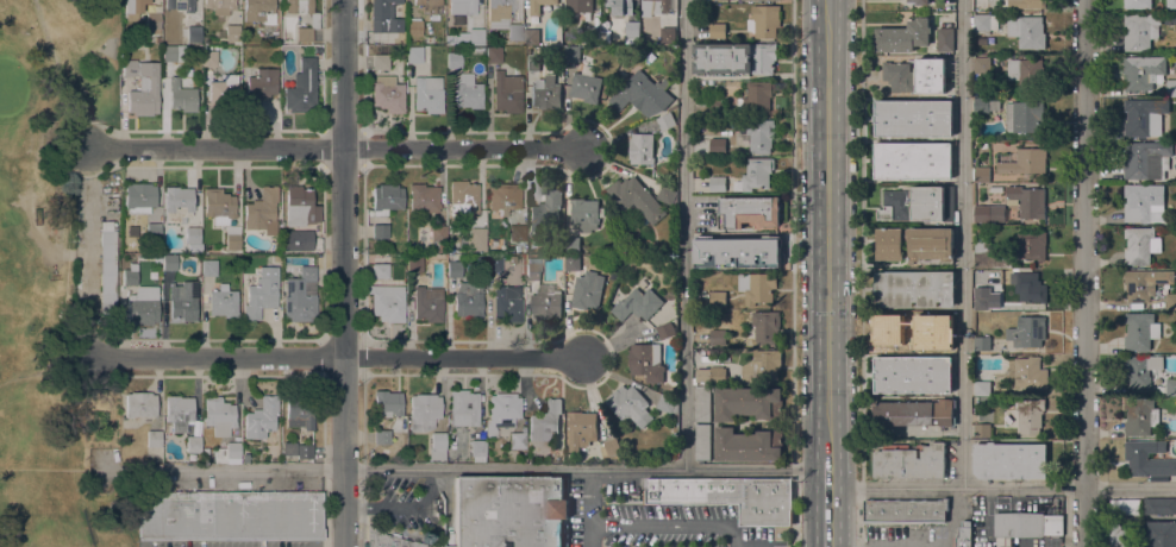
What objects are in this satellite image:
building: (920, 1)
building: (1025, 2)
building: (1137, 4)
building: (1171, 4)
building: (179, 5)
building: (429, 5)
building: (578, 5)
building: (219, 6)
building: (538, 6)
building: (619, 6)
building: (661, 6)
building: (461, 7)
building: (132, 8)
building: (499, 12)
building: (262, 17)
building: (383, 17)
building: (151, 20)
building: (314, 20)
building: (764, 20)
building: (984, 21)
building: (413, 27)
building: (632, 29)
building: (192, 30)
building: (717, 30)
building: (1027, 30)
building: (1140, 30)
building: (514, 32)
building: (229, 33)
building: (531, 33)
building: (593, 33)
building: (154, 34)
building: (668, 34)
building: (903, 36)
building: (470, 37)
building: (400, 38)
building: (945, 38)
building: (246, 39)
building: (429, 39)
building: (149, 49)
building: (306, 50)
building: (173, 54)
building: (413, 54)
building: (571, 54)
building: (493, 55)
building: (764, 57)
building: (208, 58)
building: (723, 58)
building: (453, 59)
building: (532, 61)
building: (380, 62)
building: (982, 67)
building: (1143, 70)
building: (1025, 71)
building: (897, 76)
building: (931, 76)
building: (256, 86)
building: (142, 87)
building: (301, 87)
building: (586, 87)
building: (1170, 87)
park: (10, 90)
building: (467, 92)
building: (223, 93)
building: (506, 93)
building: (546, 93)
building: (387, 94)
building: (427, 94)
building: (643, 94)
building: (181, 96)
building: (757, 96)
building: (981, 105)
building: (673, 106)
building: (717, 107)
building: (1027, 115)
building: (1144, 115)
building: (913, 117)
building: (665, 120)
building: (700, 126)
building: (761, 134)
road: (39, 143)
building: (718, 145)
building: (642, 147)
road: (465, 149)
road: (218, 150)
building: (1146, 159)
building: (913, 161)
building: (1022, 161)
building: (756, 174)
building: (982, 174)
building: (718, 183)
building: (999, 190)
building: (667, 195)
building: (139, 197)
building: (423, 197)
building: (503, 197)
building: (636, 197)
building: (386, 199)
building: (463, 199)
building: (1026, 200)
building: (1141, 200)
building: (177, 203)
building: (919, 203)
building: (218, 206)
building: (300, 207)
building: (262, 210)
building: (749, 210)
building: (989, 212)
building: (544, 213)
building: (586, 213)
road: (88, 218)
road: (830, 230)
building: (152, 231)
building: (379, 231)
building: (437, 233)
building: (517, 233)
road: (684, 234)
building: (232, 237)
building: (193, 239)
building: (476, 239)
building: (304, 241)
building: (889, 243)
road: (962, 243)
building: (573, 244)
building: (931, 244)
building: (1138, 244)
building: (1031, 245)
building: (450, 249)
building: (758, 249)
building: (989, 256)
building: (156, 259)
building: (511, 259)
building: (718, 259)
building: (575, 262)
building: (169, 263)
building: (493, 263)
building: (413, 264)
building: (208, 266)
building: (107, 268)
building: (532, 268)
building: (453, 269)
building: (715, 270)
building: (380, 271)
road: (346, 273)
building: (715, 273)
road: (792, 273)
road: (862, 273)
road: (1084, 273)
park: (61, 276)
building: (129, 277)
building: (1145, 282)
building: (757, 287)
building: (1031, 287)
building: (914, 288)
building: (587, 291)
building: (259, 296)
building: (299, 296)
building: (718, 297)
building: (183, 300)
building: (468, 300)
building: (223, 301)
building: (545, 301)
building: (982, 301)
building: (1171, 301)
building: (387, 302)
building: (427, 303)
building: (507, 303)
building: (638, 303)
building: (143, 304)
building: (763, 326)
building: (897, 328)
building: (665, 329)
building: (1140, 329)
building: (1027, 331)
building: (717, 334)
building: (736, 342)
building: (982, 342)
building: (946, 344)
road: (219, 358)
building: (646, 360)
road: (465, 361)
building: (762, 366)
building: (1140, 369)
building: (913, 372)
building: (1030, 372)
building: (708, 375)
building: (1171, 386)
building: (982, 388)
building: (669, 390)
building: (749, 402)
building: (387, 403)
building: (667, 403)
building: (702, 403)
building: (139, 404)
building: (630, 404)
building: (463, 408)
building: (300, 410)
building: (502, 410)
building: (179, 411)
building: (424, 411)
building: (915, 413)
building: (1030, 414)
building: (218, 415)
building: (1140, 416)
building: (545, 420)
building: (262, 421)
building: (581, 428)
building: (982, 429)
building: (381, 436)
building: (152, 439)
building: (517, 440)
building: (703, 441)
building: (193, 444)
building: (749, 445)
building: (612, 446)
building: (437, 447)
building: (477, 447)
building: (288, 448)
building: (305, 451)
building: (230, 453)
building: (1149, 458)
building: (911, 460)
building: (1009, 460)
road: (484, 471)
road: (1002, 486)
building: (728, 496)
road: (828, 503)
building: (1125, 505)
building: (1159, 505)
road: (326, 508)
road: (361, 509)
road: (589, 509)
building: (505, 511)
building: (906, 511)
building: (175, 515)
building: (267, 515)
road: (955, 516)
road: (1065, 516)
road: (1103, 516)
building: (976, 517)
building: (1027, 523)
road: (670, 524)
building: (1162, 534)
building: (963, 535)
building: (1124, 535)
building: (388, 539)
building: (1006, 546)

